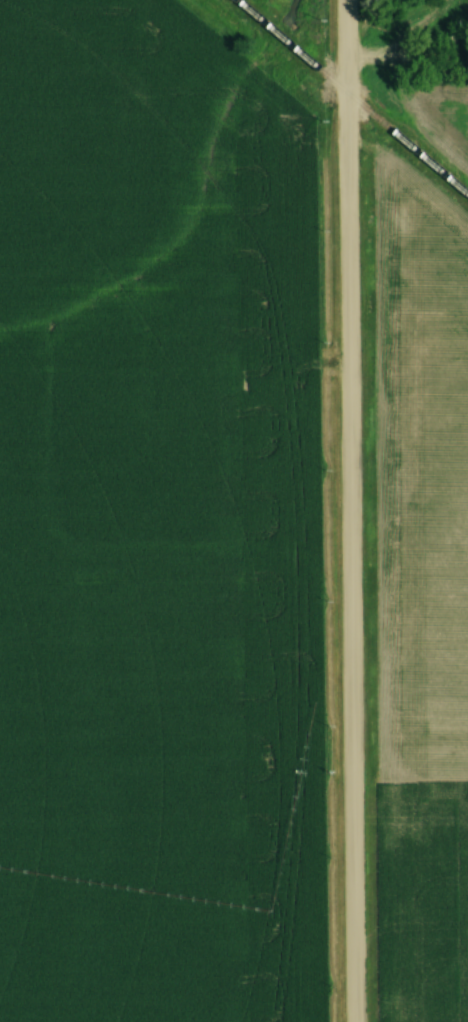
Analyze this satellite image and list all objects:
railway: (351, 95)
road: (347, 511)

